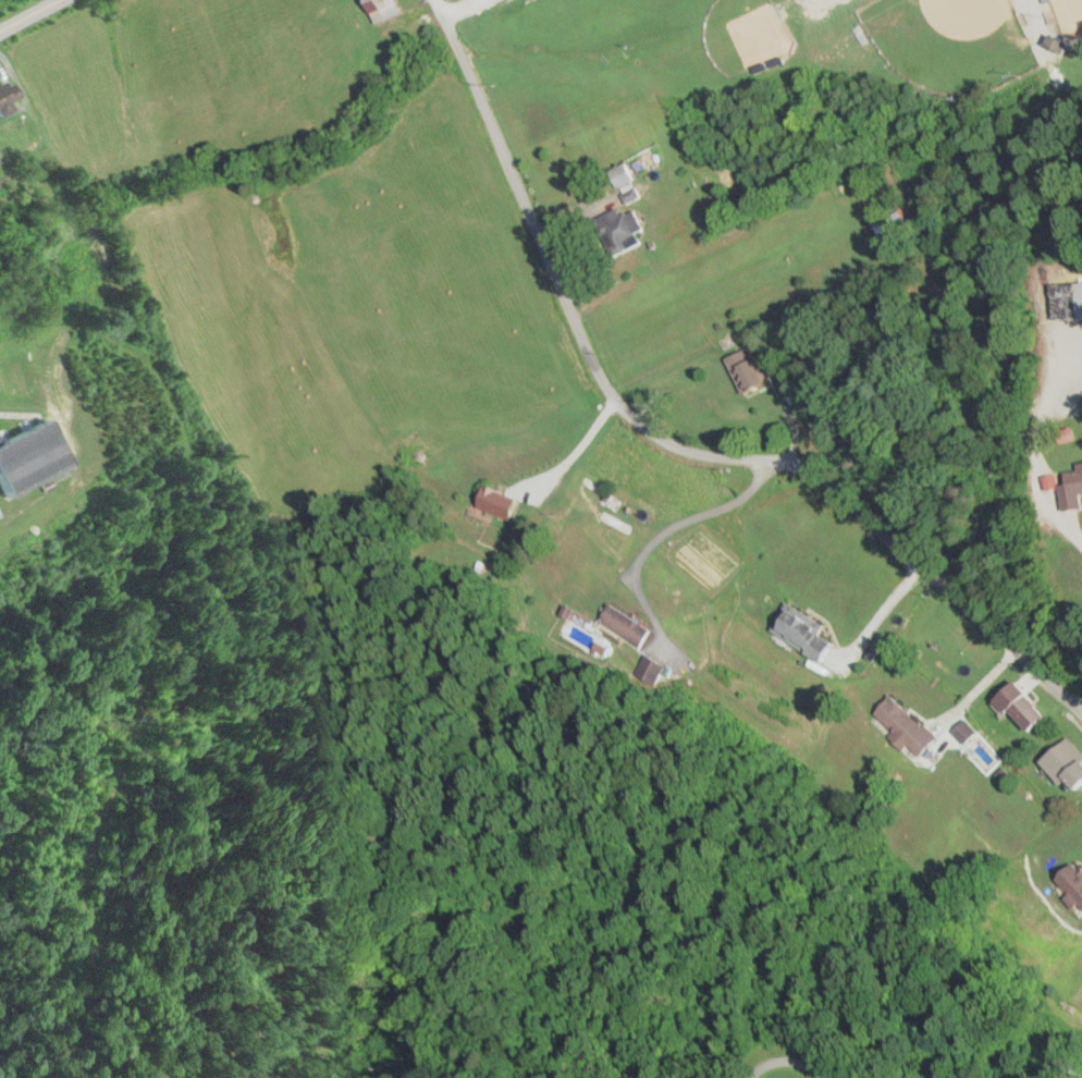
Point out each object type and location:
building: (1050, 1)
building: (391, 9)
road: (30, 16)
building: (1065, 44)
building: (9, 98)
building: (627, 179)
building: (895, 225)
building: (630, 230)
building: (1070, 302)
building: (752, 371)
road: (668, 444)
building: (33, 457)
building: (1056, 482)
building: (1075, 491)
building: (503, 503)
building: (631, 624)
building: (809, 632)
building: (653, 665)
building: (1029, 706)
building: (911, 725)
building: (971, 732)
building: (1068, 762)
building: (1074, 881)
road: (784, 1061)

